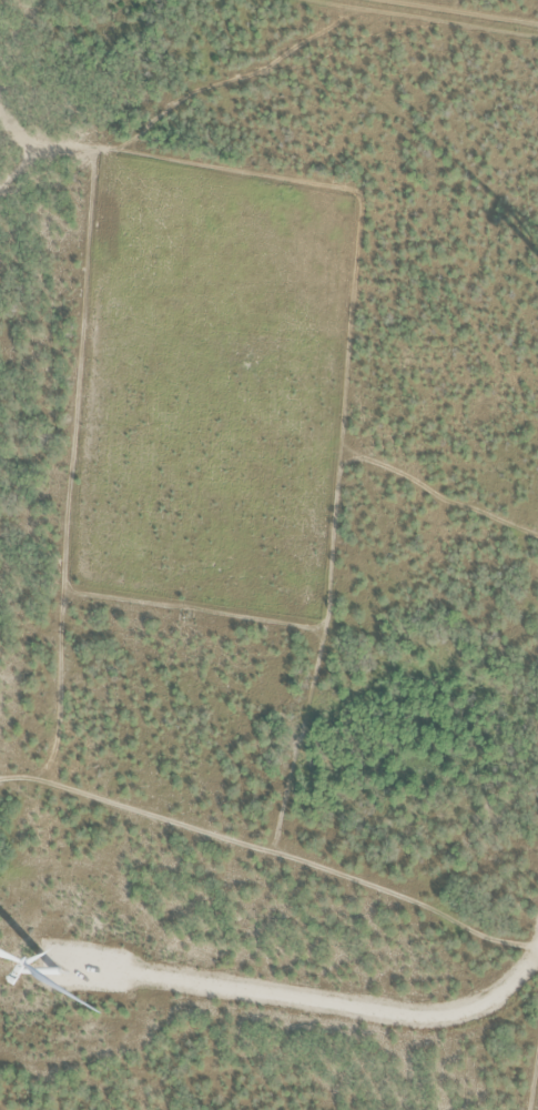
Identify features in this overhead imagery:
wind turbine: (57, 971)

